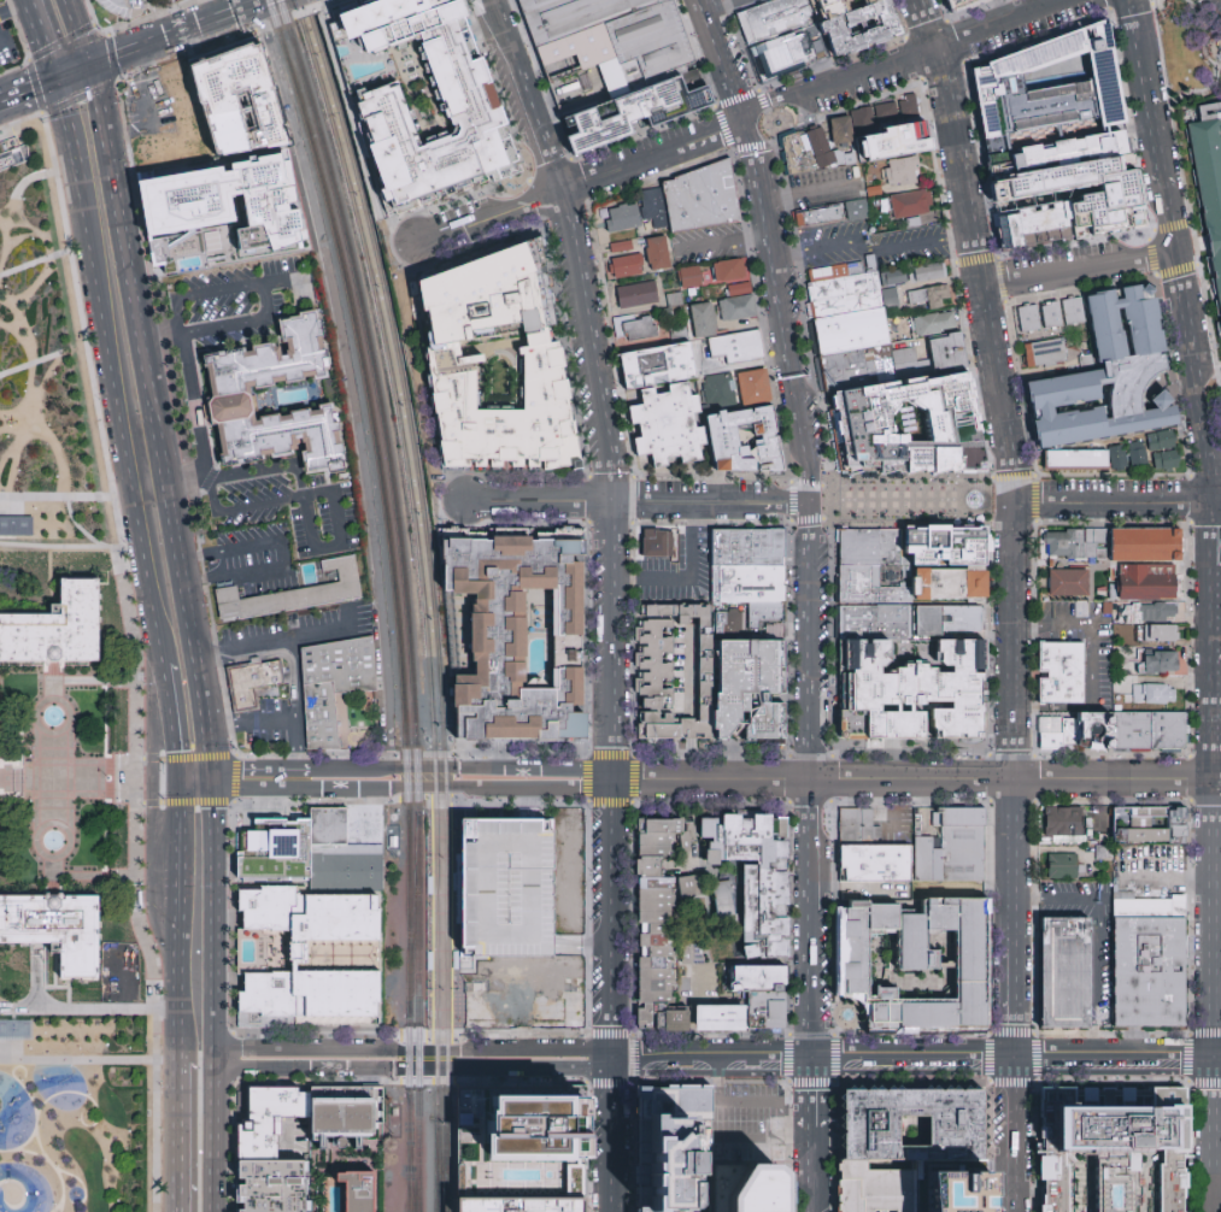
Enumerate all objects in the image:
road: (715, 2)
building: (958, 4)
road: (12, 10)
road: (212, 10)
road: (71, 17)
road: (93, 19)
building: (773, 20)
road: (928, 25)
road: (1008, 25)
building: (863, 28)
road: (87, 29)
road: (18, 30)
building: (618, 30)
road: (160, 39)
road: (39, 40)
parking lot: (6, 45)
road: (1143, 47)
building: (581, 48)
building: (793, 54)
road: (729, 60)
road: (88, 61)
traffic signals: (90, 66)
road: (113, 69)
building: (612, 78)
traffic signals: (53, 80)
road: (841, 84)
building: (1053, 84)
road: (35, 88)
road: (27, 89)
building: (231, 101)
building: (908, 106)
road: (787, 107)
building: (885, 111)
road: (147, 112)
building: (380, 114)
building: (628, 116)
building: (863, 118)
building: (178, 122)
fountain: (776, 123)
building: (843, 125)
road: (751, 143)
building: (811, 149)
building: (12, 153)
building: (1055, 153)
road: (71, 159)
building: (902, 171)
road: (1166, 173)
road: (30, 178)
road: (585, 182)
parking lot: (827, 184)
building: (1210, 184)
road: (808, 188)
building: (1106, 194)
building: (703, 199)
building: (910, 204)
building: (652, 205)
building: (856, 210)
road: (982, 210)
building: (222, 211)
road: (10, 212)
building: (622, 217)
building: (817, 219)
building: (1033, 224)
road: (36, 231)
road: (22, 235)
road: (988, 240)
road: (5, 241)
road: (726, 241)
parking lot: (868, 246)
road: (875, 251)
road: (64, 252)
building: (657, 253)
building: (624, 259)
road: (25, 265)
railway: (378, 265)
railway: (366, 266)
road: (1082, 267)
building: (927, 272)
building: (732, 273)
road: (982, 275)
building: (688, 277)
road: (282, 281)
road: (262, 284)
road: (30, 292)
building: (636, 293)
building: (847, 296)
building: (928, 296)
parking lot: (237, 302)
building: (674, 302)
building: (736, 307)
road: (787, 311)
building: (1062, 313)
road: (1188, 318)
building: (703, 319)
building: (1027, 319)
building: (935, 320)
road: (8, 325)
building: (636, 326)
building: (853, 334)
road: (23, 335)
building: (749, 348)
building: (539, 352)
building: (1044, 353)
road: (30, 361)
building: (658, 367)
railway: (362, 369)
railway: (372, 369)
building: (847, 372)
building: (1110, 375)
road: (340, 378)
road: (595, 382)
road: (189, 384)
building: (753, 387)
building: (721, 393)
building: (231, 394)
road: (29, 404)
road: (149, 411)
road: (1202, 416)
road: (27, 420)
building: (908, 424)
road: (5, 426)
building: (669, 428)
building: (747, 440)
building: (1138, 448)
building: (1162, 451)
road: (10, 452)
road: (122, 452)
road: (55, 453)
building: (1117, 457)
building: (1137, 458)
building: (1075, 459)
road: (1210, 476)
road: (186, 481)
road: (334, 493)
road: (46, 496)
road: (106, 496)
road: (303, 498)
fountain: (964, 499)
road: (636, 502)
road: (914, 502)
road: (1117, 504)
parking lot: (287, 505)
building: (14, 525)
road: (77, 526)
building: (1074, 543)
building: (664, 545)
building: (943, 545)
building: (1144, 545)
road: (59, 547)
road: (227, 548)
building: (750, 548)
building: (871, 548)
road: (689, 566)
road: (243, 571)
railway: (432, 579)
railway: (421, 581)
building: (1145, 582)
building: (868, 583)
building: (952, 583)
building: (1067, 583)
road: (1214, 584)
building: (751, 586)
building: (301, 593)
road: (1217, 598)
building: (1151, 614)
building: (950, 620)
road: (346, 622)
building: (750, 622)
building: (875, 623)
building: (55, 628)
road: (318, 633)
building: (1158, 633)
building: (515, 635)
road: (135, 637)
road: (241, 646)
building: (337, 660)
building: (1156, 661)
road: (1091, 666)
building: (1062, 673)
building: (675, 676)
road: (93, 681)
road: (292, 681)
building: (252, 683)
road: (52, 687)
building: (751, 693)
building: (910, 693)
building: (1152, 694)
road: (61, 701)
building: (328, 710)
building: (341, 712)
fountain: (52, 717)
road: (1217, 719)
road: (169, 722)
road: (248, 724)
road: (1015, 726)
building: (1096, 731)
building: (1151, 731)
building: (1053, 742)
road: (20, 747)
park: (65, 751)
road: (297, 752)
road: (205, 755)
road: (587, 757)
road: (452, 766)
road: (5, 778)
road: (52, 778)
road: (55, 778)
road: (63, 778)
road: (124, 778)
road: (235, 778)
railway: (417, 779)
traffic signals: (177, 781)
road: (193, 781)
traffic signals: (209, 781)
road: (252, 781)
road: (812, 781)
road: (916, 781)
road: (453, 786)
road: (519, 799)
road: (527, 802)
road: (152, 805)
railway: (424, 808)
road: (879, 811)
building: (1068, 822)
road: (61, 825)
building: (1154, 825)
building: (675, 829)
building: (861, 829)
building: (325, 832)
fountain: (52, 841)
building: (669, 841)
building: (274, 846)
building: (958, 846)
building: (658, 852)
building: (1064, 864)
building: (877, 865)
road: (52, 869)
building: (652, 869)
parking lot: (1150, 869)
building: (345, 871)
road: (95, 876)
road: (1168, 878)
railway: (409, 881)
building: (756, 881)
building: (454, 883)
building: (428, 884)
parking lot: (509, 884)
building: (657, 884)
building: (509, 888)
building: (689, 888)
building: (700, 888)
road: (177, 894)
building: (658, 896)
building: (659, 907)
building: (1147, 907)
railway: (413, 914)
road: (428, 917)
road: (609, 918)
road: (213, 919)
building: (658, 919)
railway: (435, 929)
railway: (446, 930)
building: (658, 930)
building: (57, 931)
road: (1093, 935)
road: (1214, 937)
building: (658, 941)
road: (580, 947)
building: (658, 953)
building: (297, 957)
building: (688, 957)
building: (700, 957)
building: (454, 959)
building: (428, 960)
building: (921, 963)
building: (657, 964)
parking lot: (1103, 971)
building: (1150, 972)
building: (1066, 973)
building: (657, 976)
building: (757, 977)
road: (231, 983)
building: (657, 987)
building: (657, 999)
road: (1014, 1005)
road: (17, 1007)
road: (82, 1007)
building: (1104, 1008)
railway: (418, 1012)
fountain: (847, 1014)
building: (647, 1017)
building: (745, 1018)
building: (16, 1028)
railway: (464, 1028)
road: (176, 1034)
railway: (409, 1055)
road: (614, 1058)
road: (1117, 1058)
road: (195, 1059)
road: (77, 1060)
road: (18, 1063)
road: (83, 1095)
road: (810, 1099)
road: (763, 1102)
road: (33, 1106)
building: (345, 1112)
building: (269, 1119)
building: (532, 1128)
building: (956, 1130)
building: (1116, 1132)
road: (176, 1135)
road: (213, 1135)
road: (609, 1135)
road: (1012, 1135)
road: (761, 1142)
building: (669, 1146)
road: (29, 1152)
building: (777, 1152)
railway: (409, 1153)
railway: (411, 1153)
railway: (439, 1164)
railway: (442, 1164)
road: (63, 1171)
road: (810, 1176)
building: (949, 1179)
building: (270, 1187)
road: (61, 1188)
building: (359, 1189)
building: (750, 1189)
building: (871, 1190)
road: (22, 1192)
building: (522, 1202)
building: (951, 1205)
road: (57, 1206)

